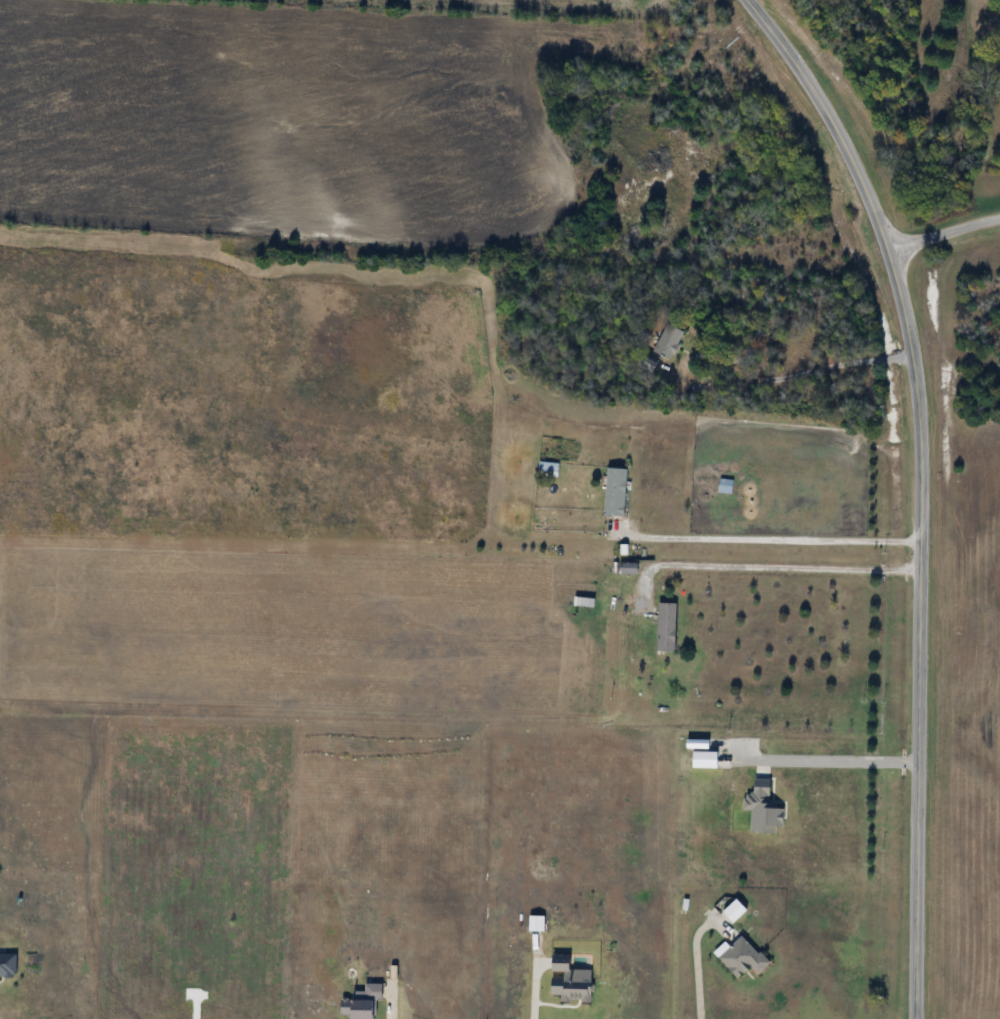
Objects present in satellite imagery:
road: (946, 233)
building: (669, 342)
road: (799, 374)
building: (549, 471)
road: (924, 488)
building: (618, 493)
road: (772, 539)
road: (776, 566)
building: (630, 570)
building: (668, 628)
road: (833, 759)
building: (737, 912)
building: (744, 959)
road: (697, 964)
road: (536, 993)

